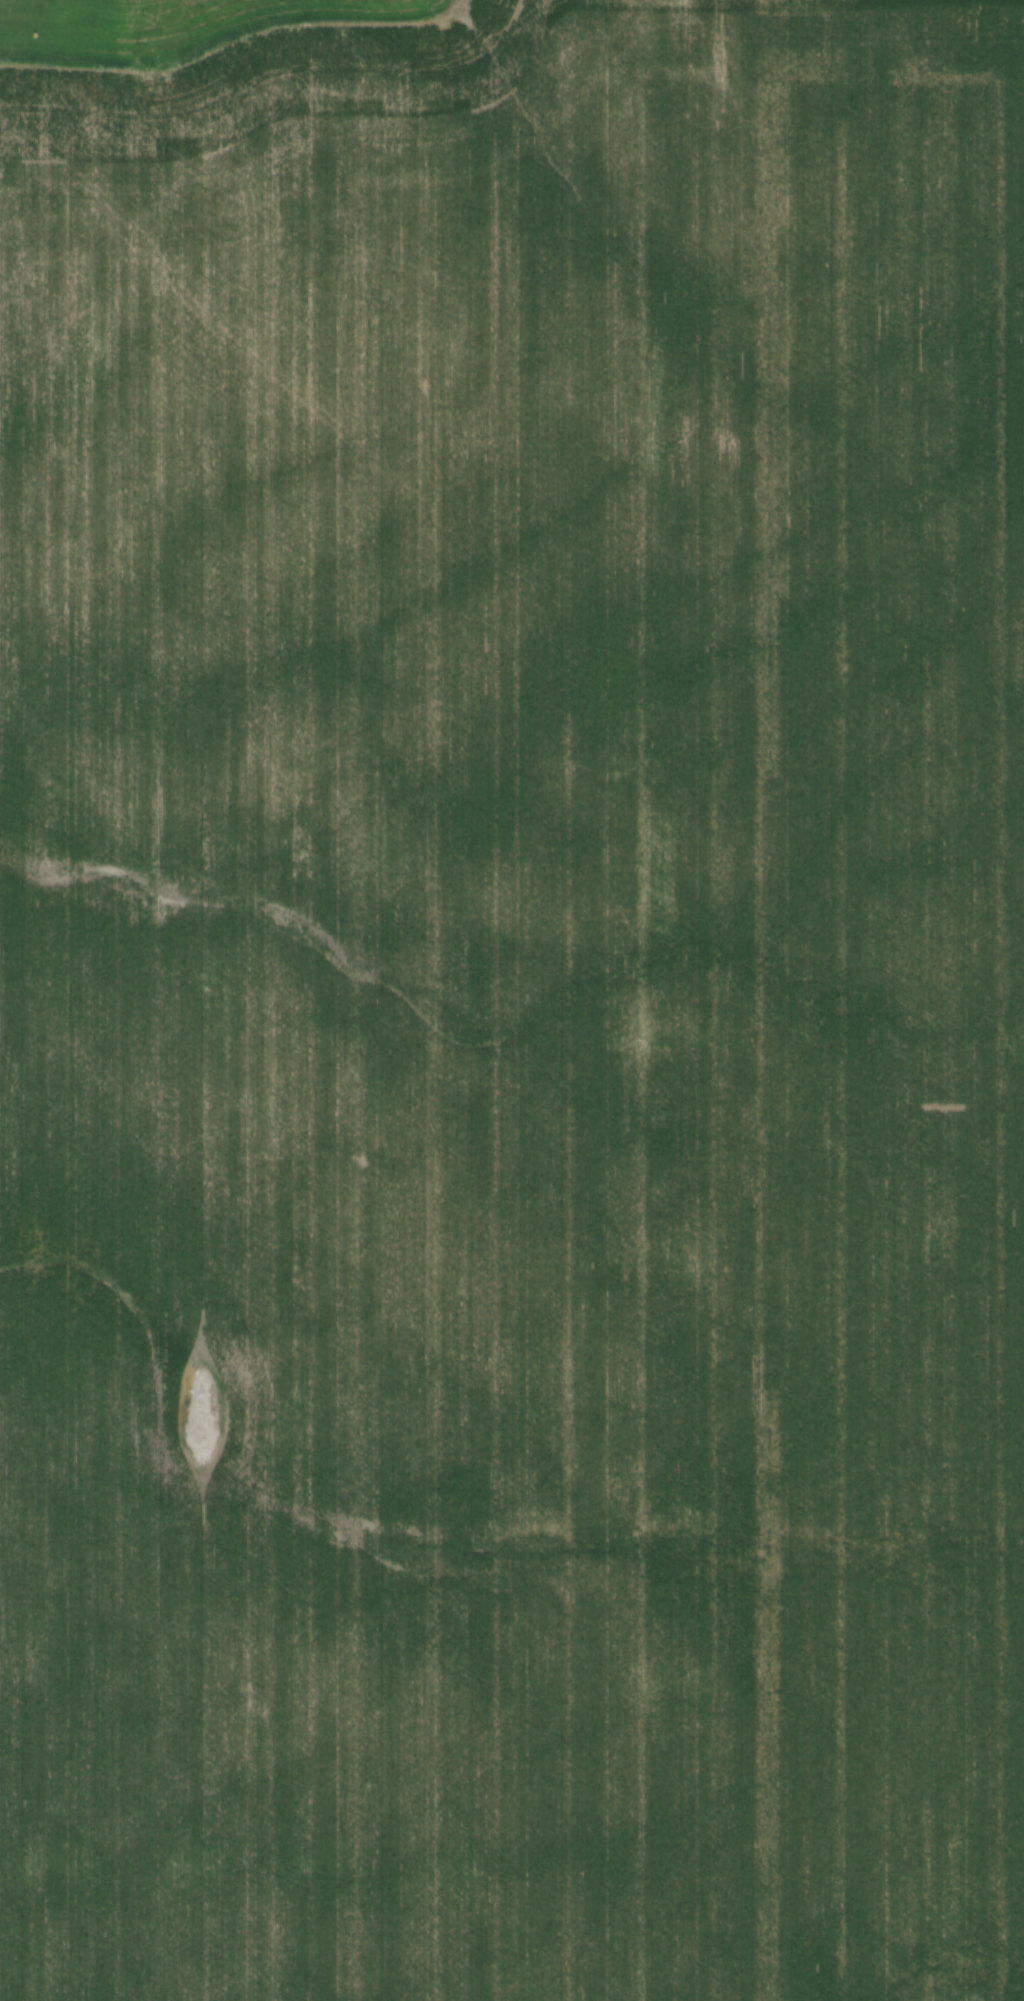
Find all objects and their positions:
building: (725, 1454)

